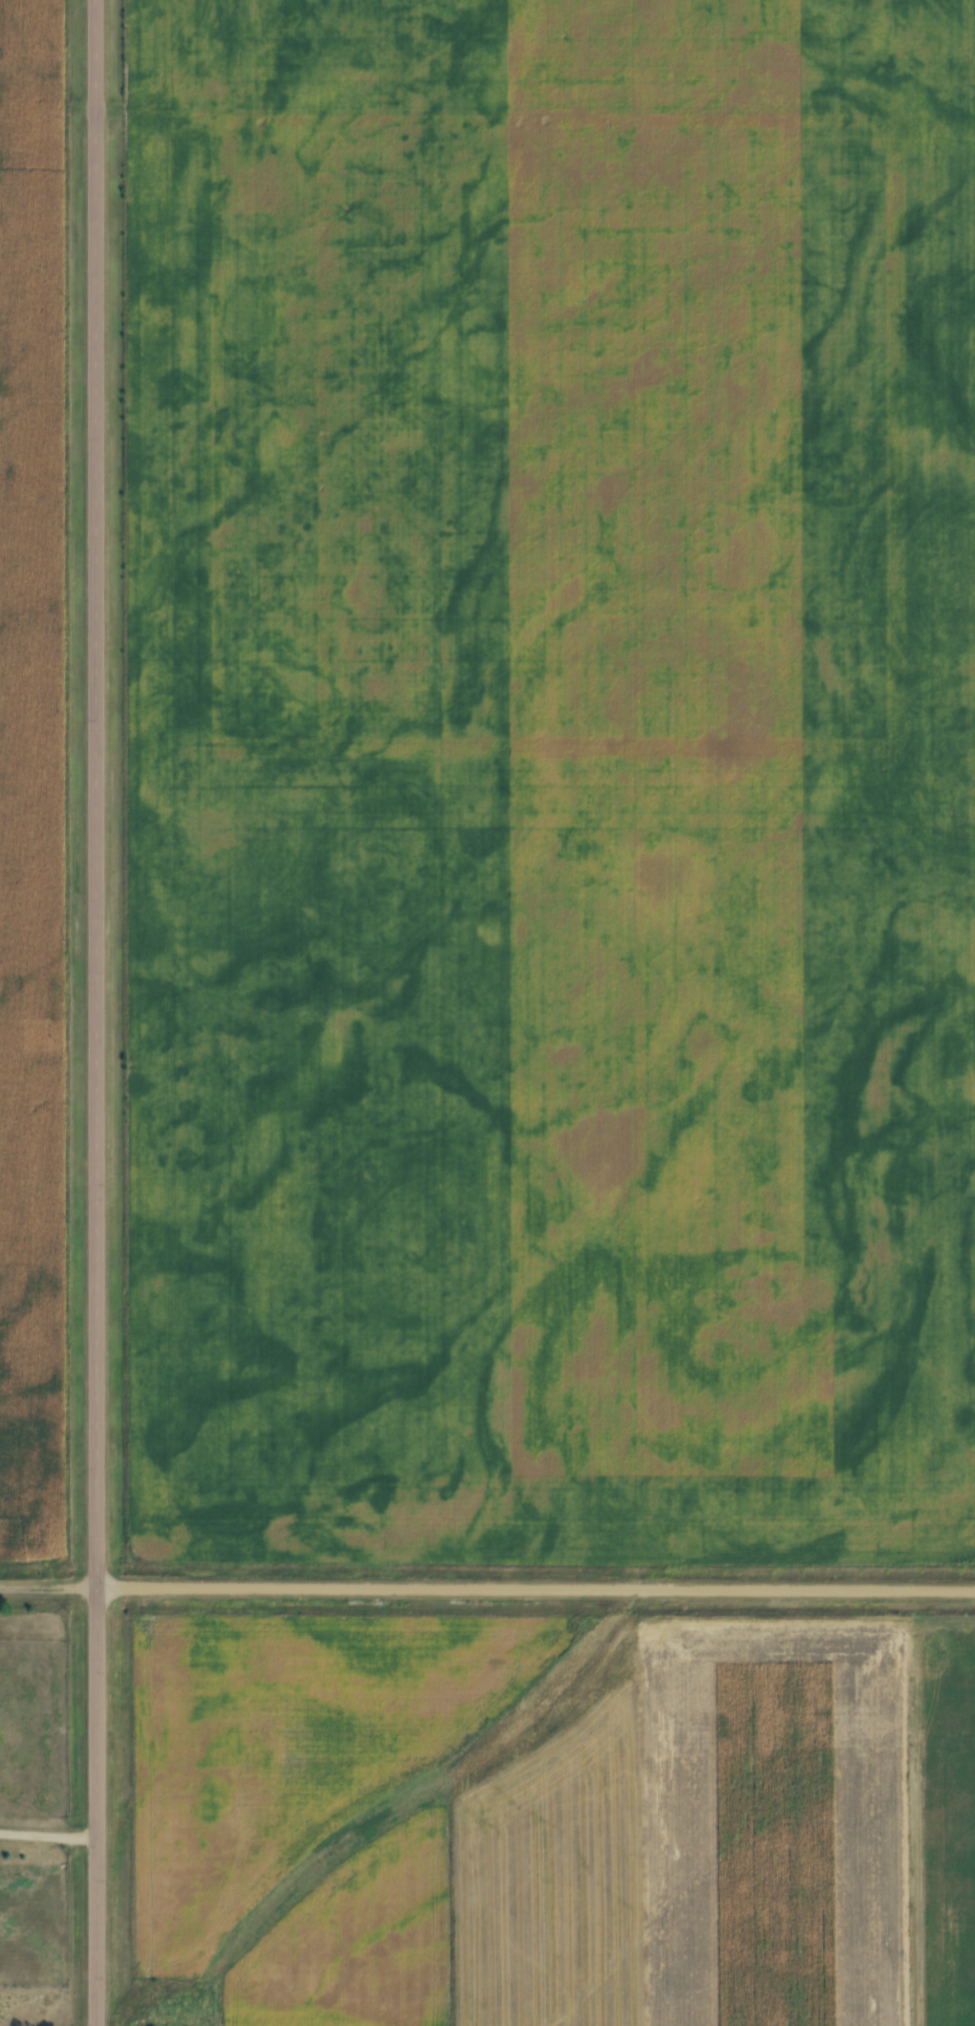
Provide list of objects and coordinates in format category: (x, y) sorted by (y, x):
road: (96, 1012)
road: (487, 1587)
road: (48, 1833)

